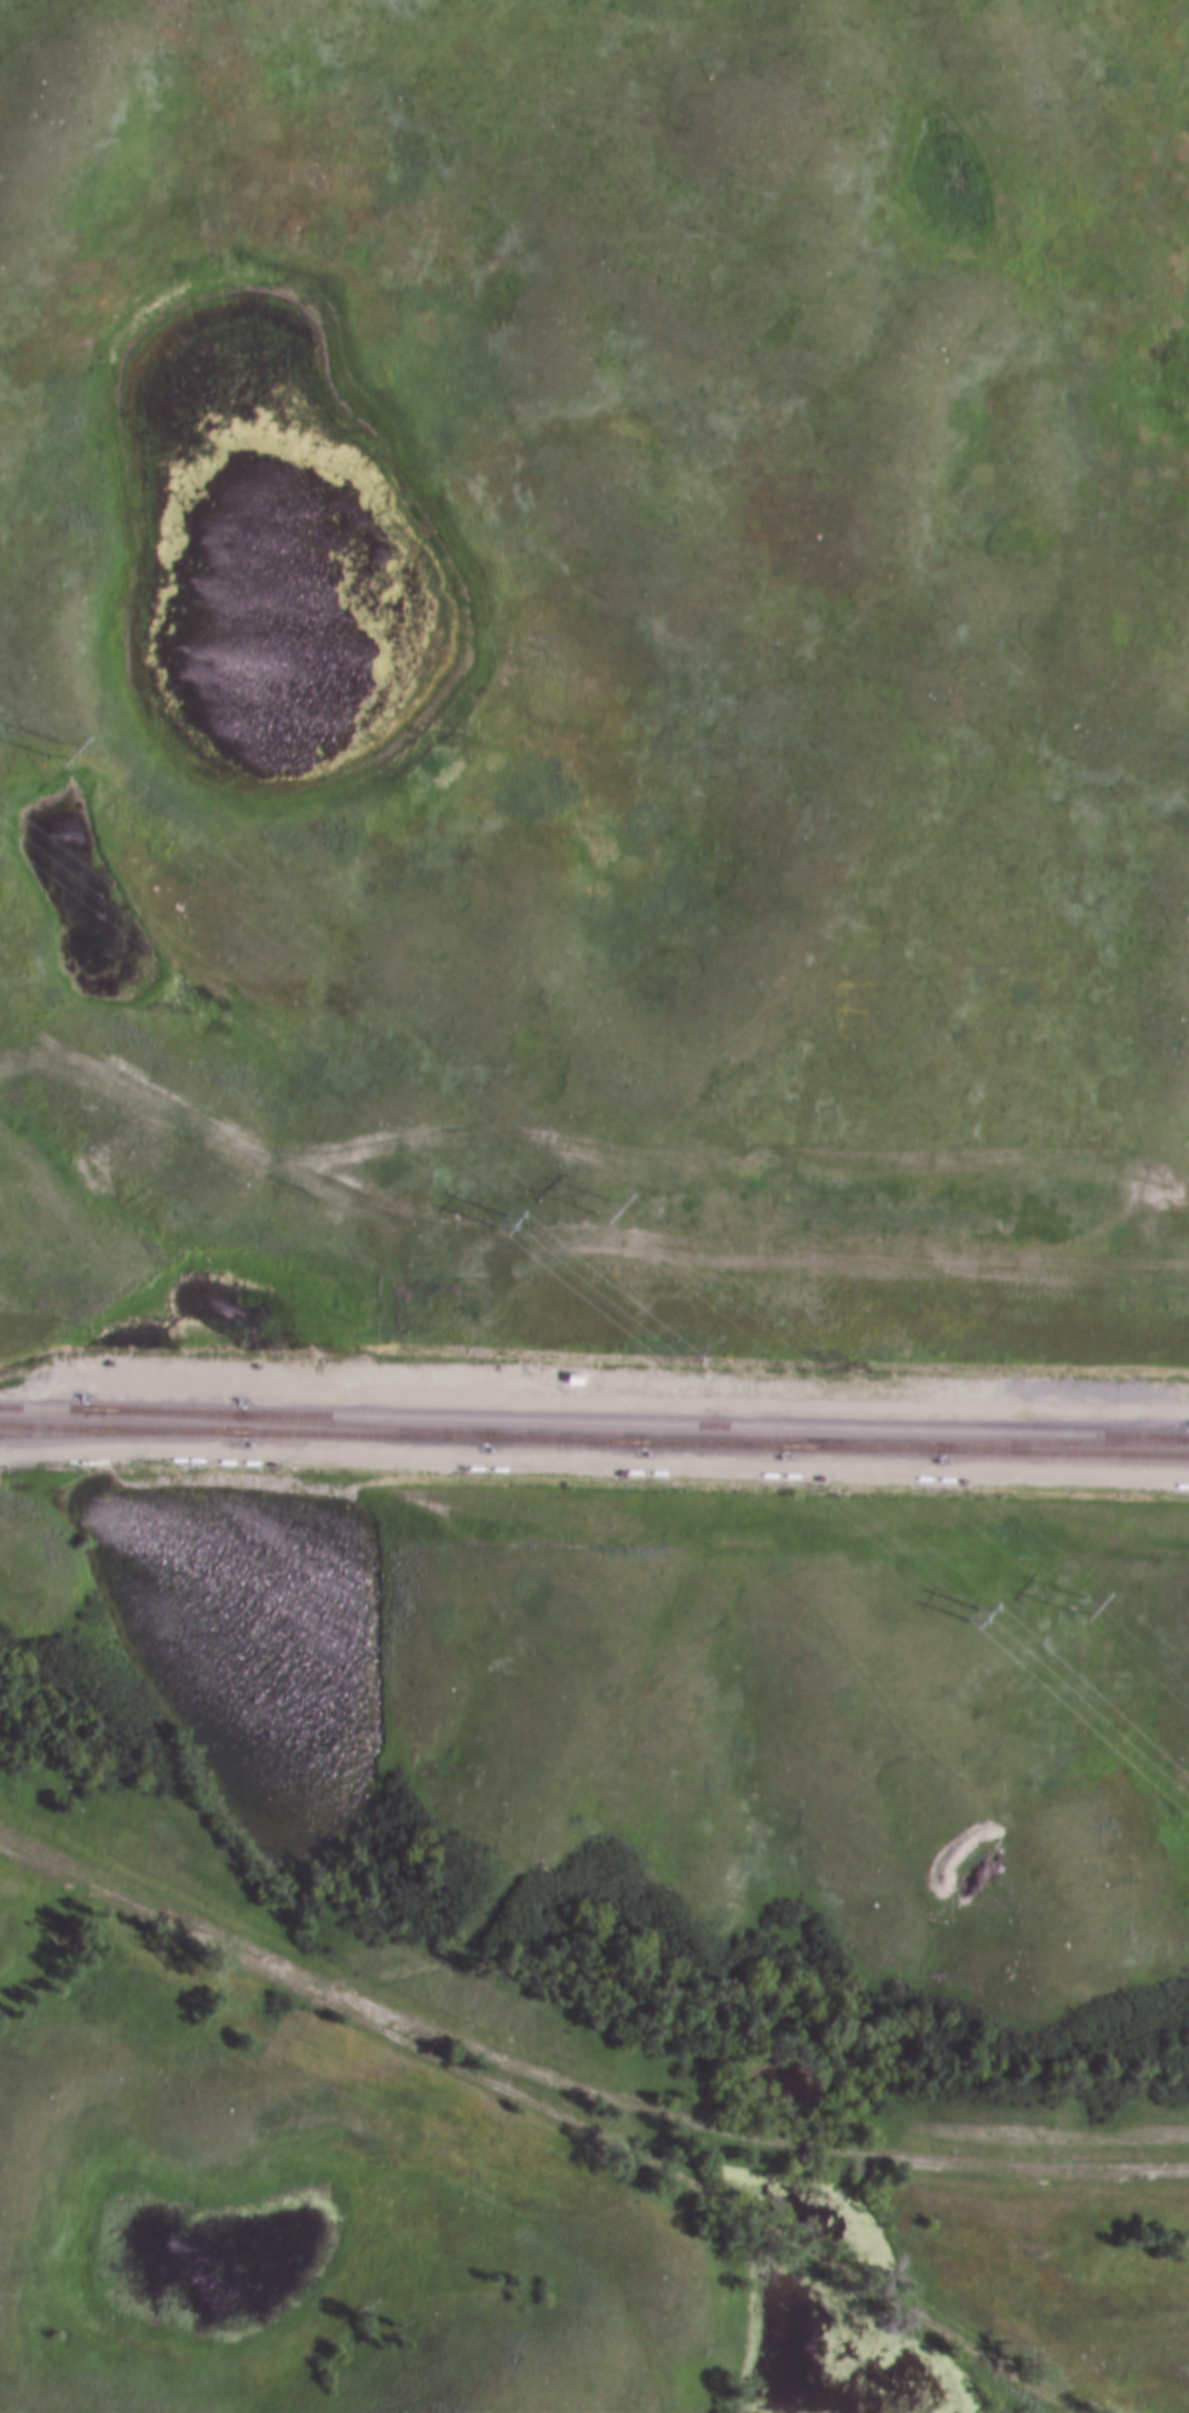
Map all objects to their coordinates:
power tower: (51, 750)
power tower: (600, 1203)
railway: (39, 1410)
railway: (634, 1418)
railway: (360, 1427)
railway: (120, 1433)
railway: (321, 1436)
railway: (983, 1441)
railway: (711, 1444)
railway: (983, 1451)
road: (594, 1462)
power tower: (1070, 1604)
road: (547, 2113)

